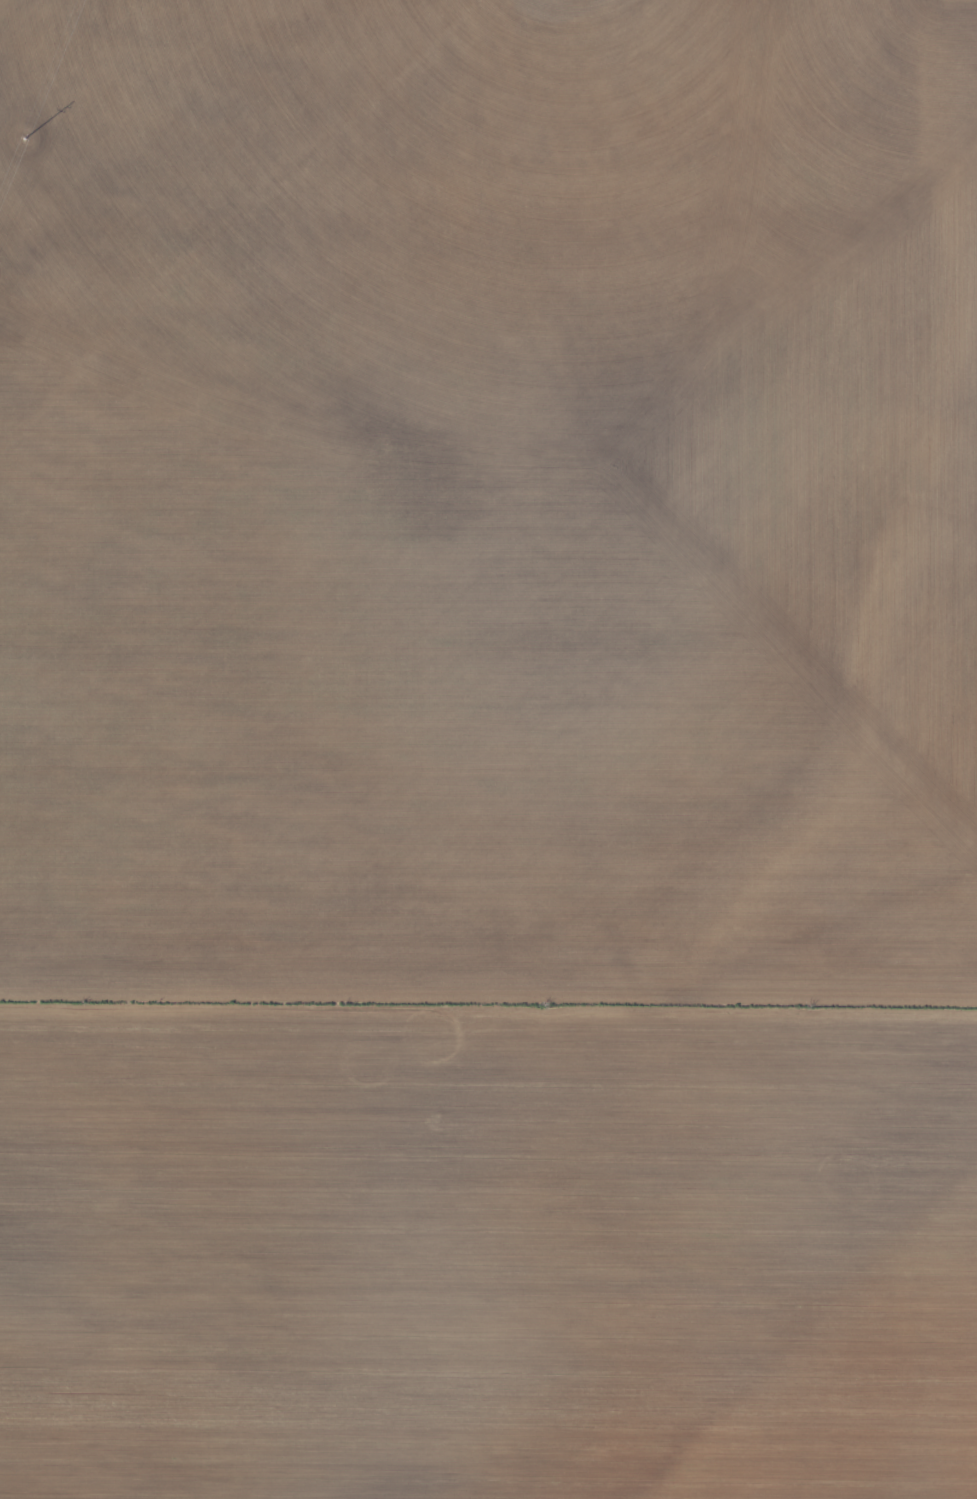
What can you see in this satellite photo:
power tower: (26, 135)

